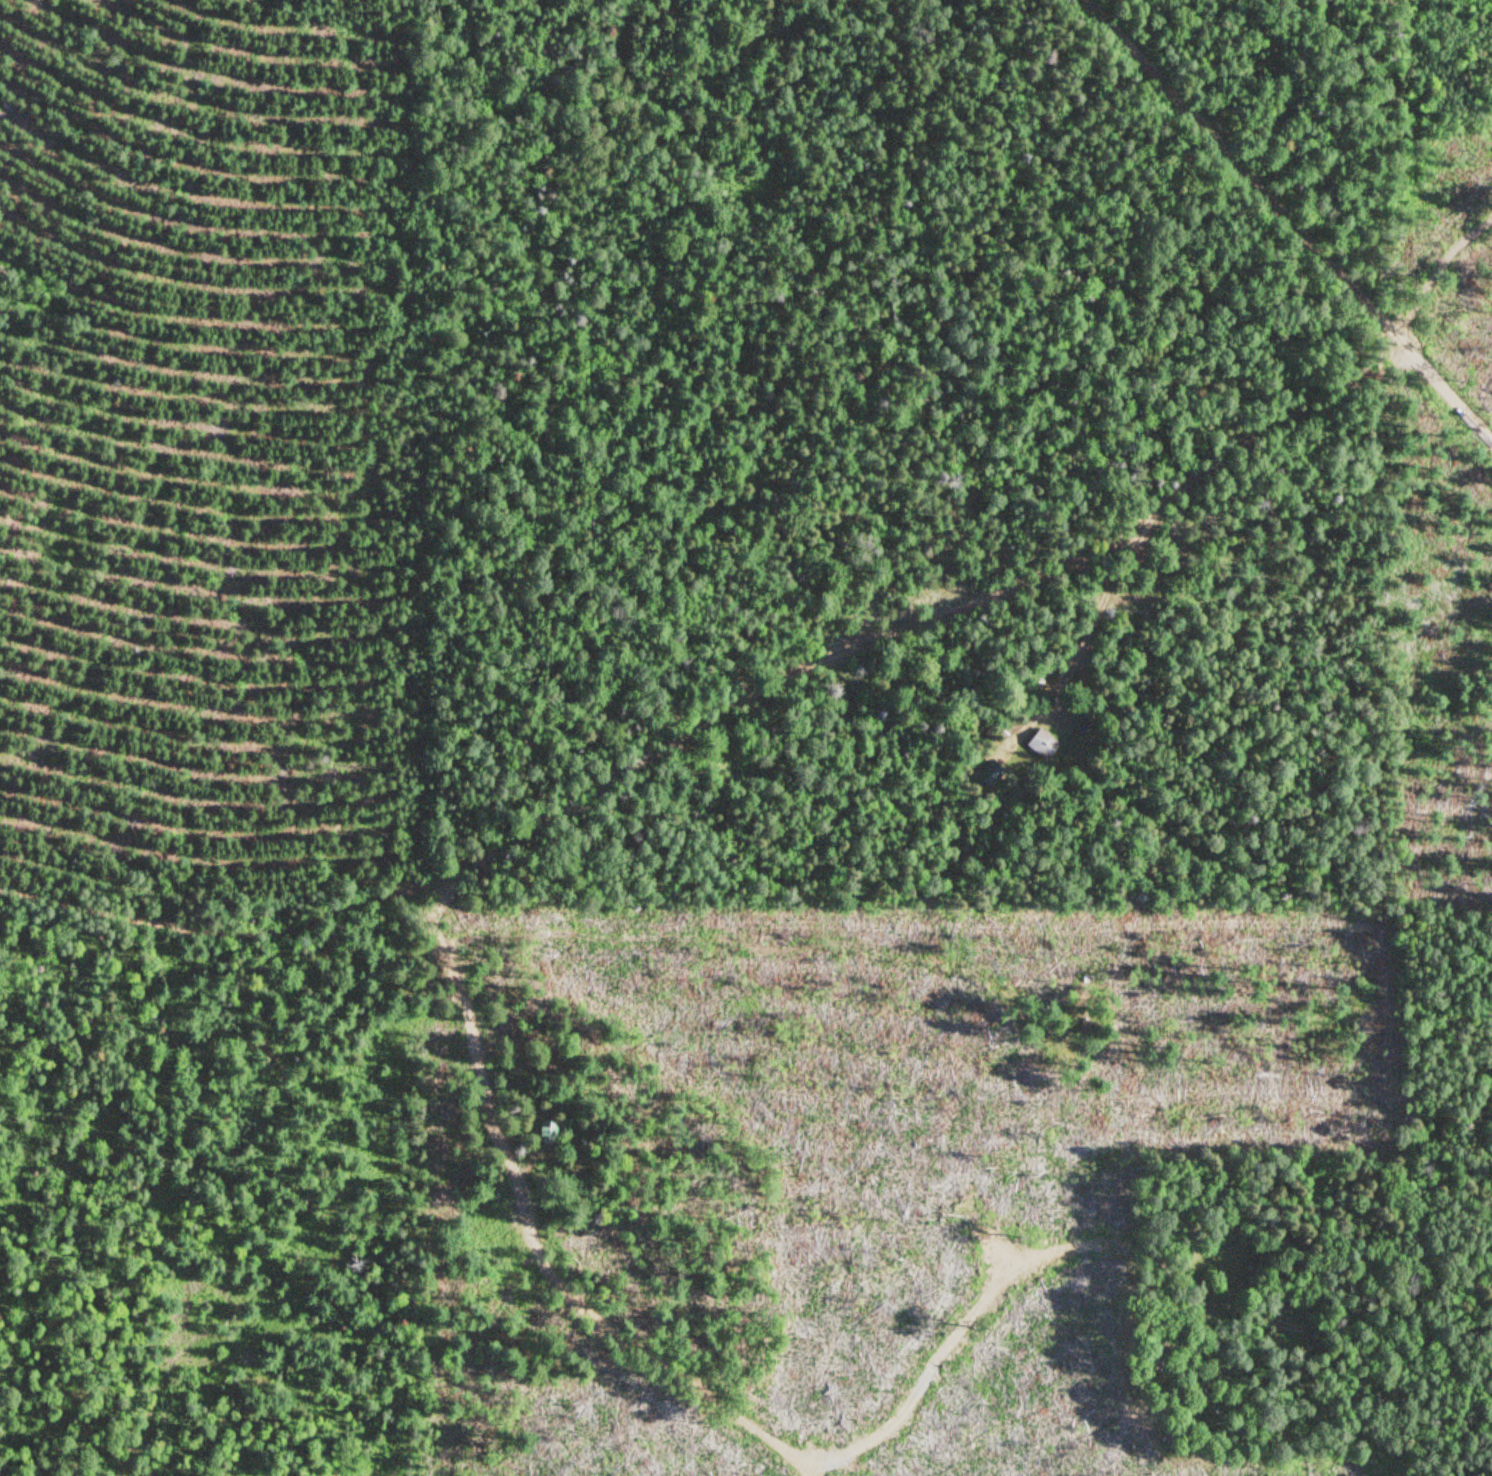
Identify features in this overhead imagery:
road: (1288, 221)
road: (717, 695)
building: (1043, 744)
building: (990, 774)
building: (1007, 796)
road: (504, 1089)
building: (546, 1131)

